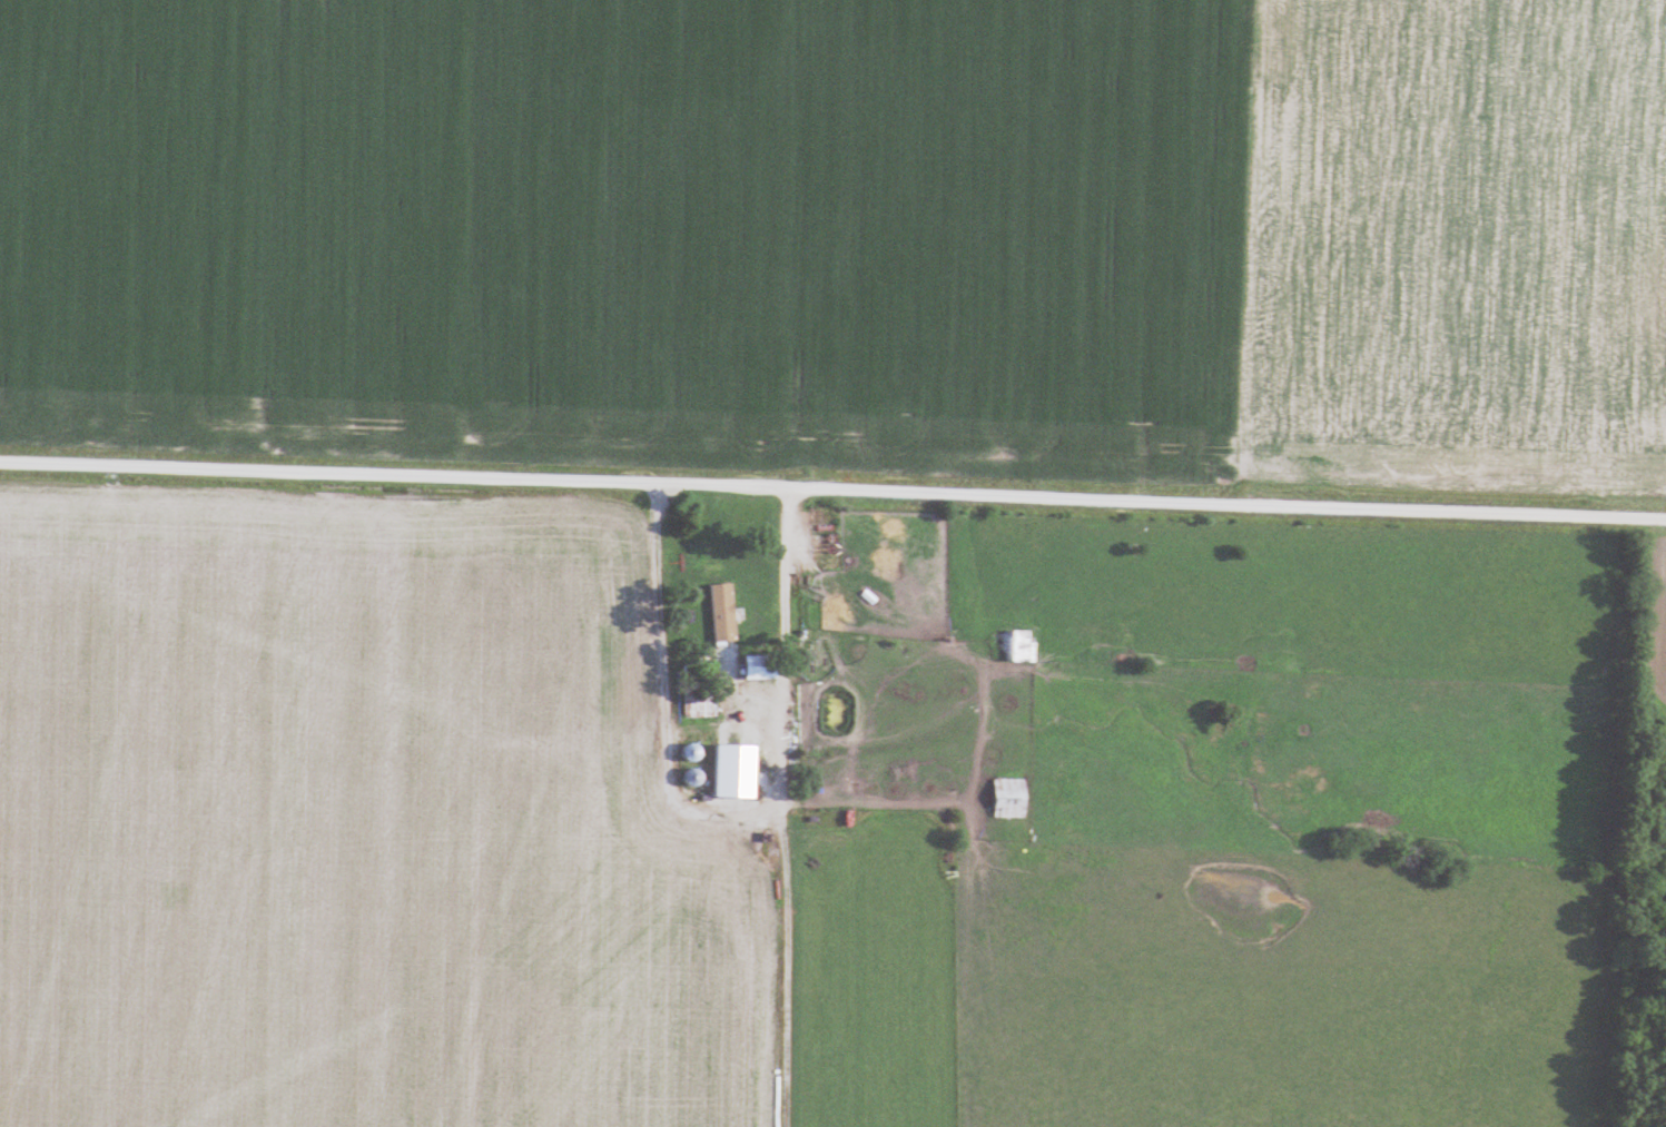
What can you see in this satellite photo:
road: (832, 487)
building: (738, 625)
road: (903, 642)
building: (1015, 644)
building: (759, 666)
building: (701, 705)
building: (697, 777)
road: (668, 795)
building: (1011, 798)

